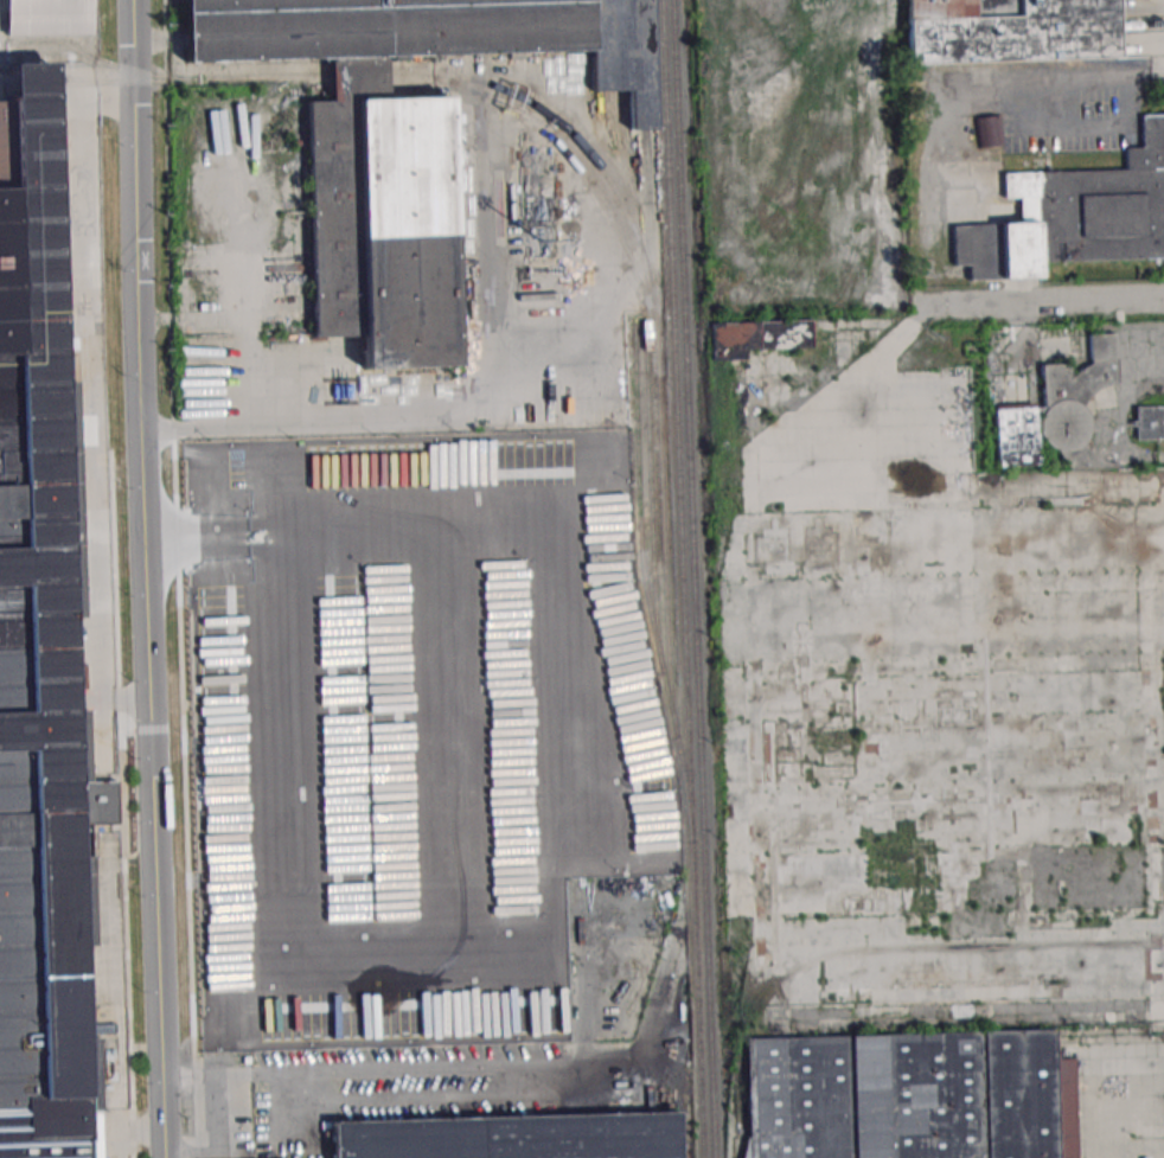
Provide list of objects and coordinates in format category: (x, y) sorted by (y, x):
building: (49, 17)
building: (1009, 28)
building: (376, 34)
building: (621, 55)
road: (230, 75)
road: (358, 76)
road: (1145, 76)
road: (1017, 124)
building: (990, 130)
building: (1074, 216)
building: (382, 231)
road: (1036, 306)
building: (757, 337)
road: (594, 371)
building: (1055, 409)
building: (1149, 422)
railway: (651, 484)
railway: (664, 514)
railway: (642, 565)
road: (148, 578)
road: (178, 578)
railway: (683, 578)
railway: (695, 578)
building: (38, 661)
road: (247, 1074)
road: (289, 1088)
road: (1115, 1094)
building: (903, 1096)
road: (578, 1098)
road: (242, 1107)
building: (512, 1138)
road: (248, 1145)

